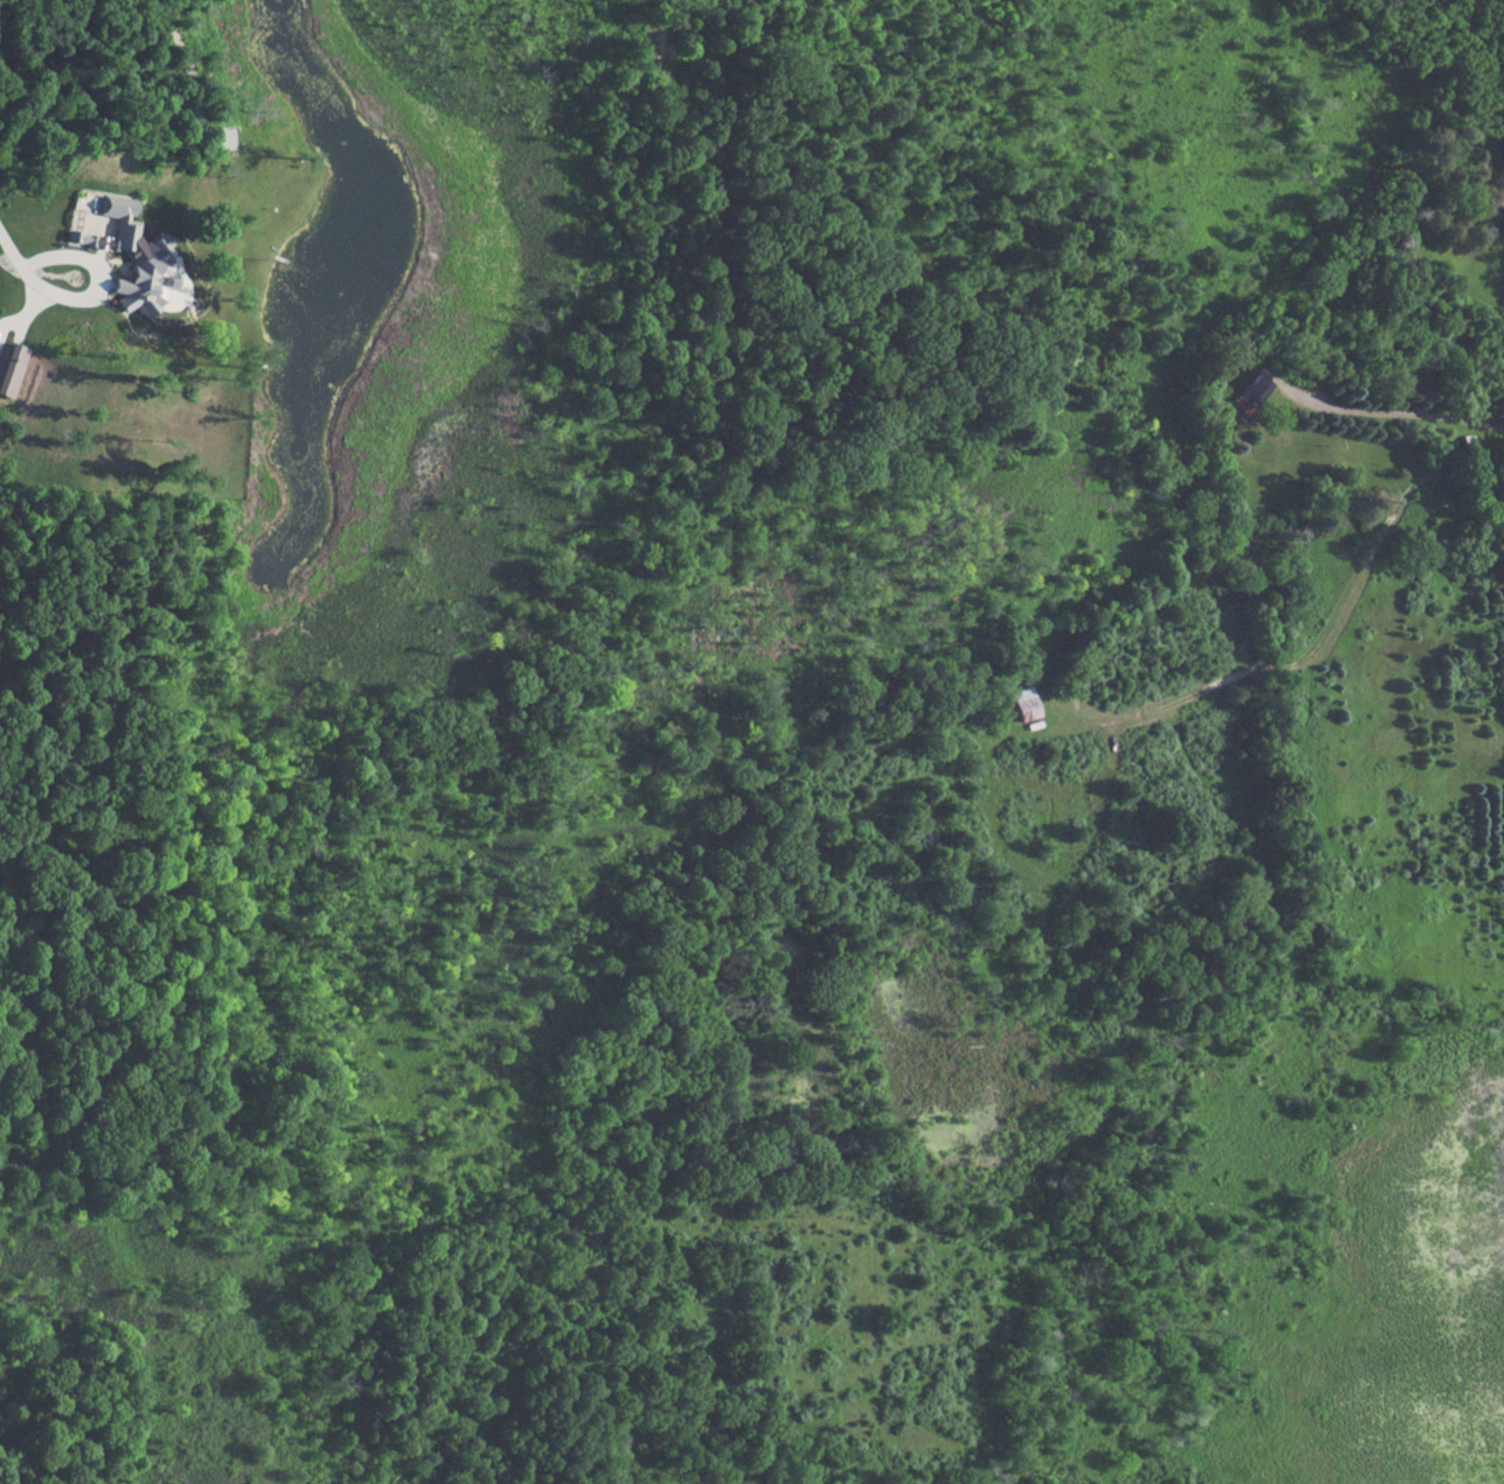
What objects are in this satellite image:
building: (120, 243)
building: (1252, 390)
road: (1389, 413)
building: (1024, 703)

